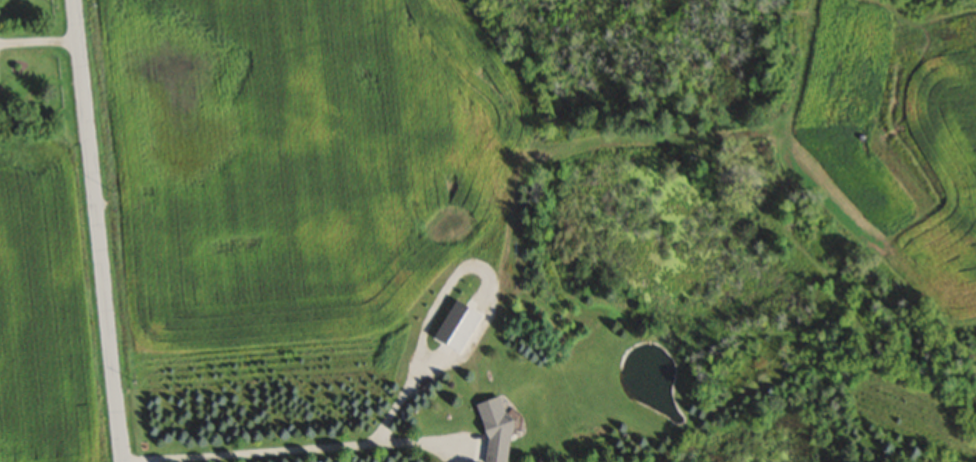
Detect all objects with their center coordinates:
road: (95, 231)
building: (493, 431)
road: (291, 448)

